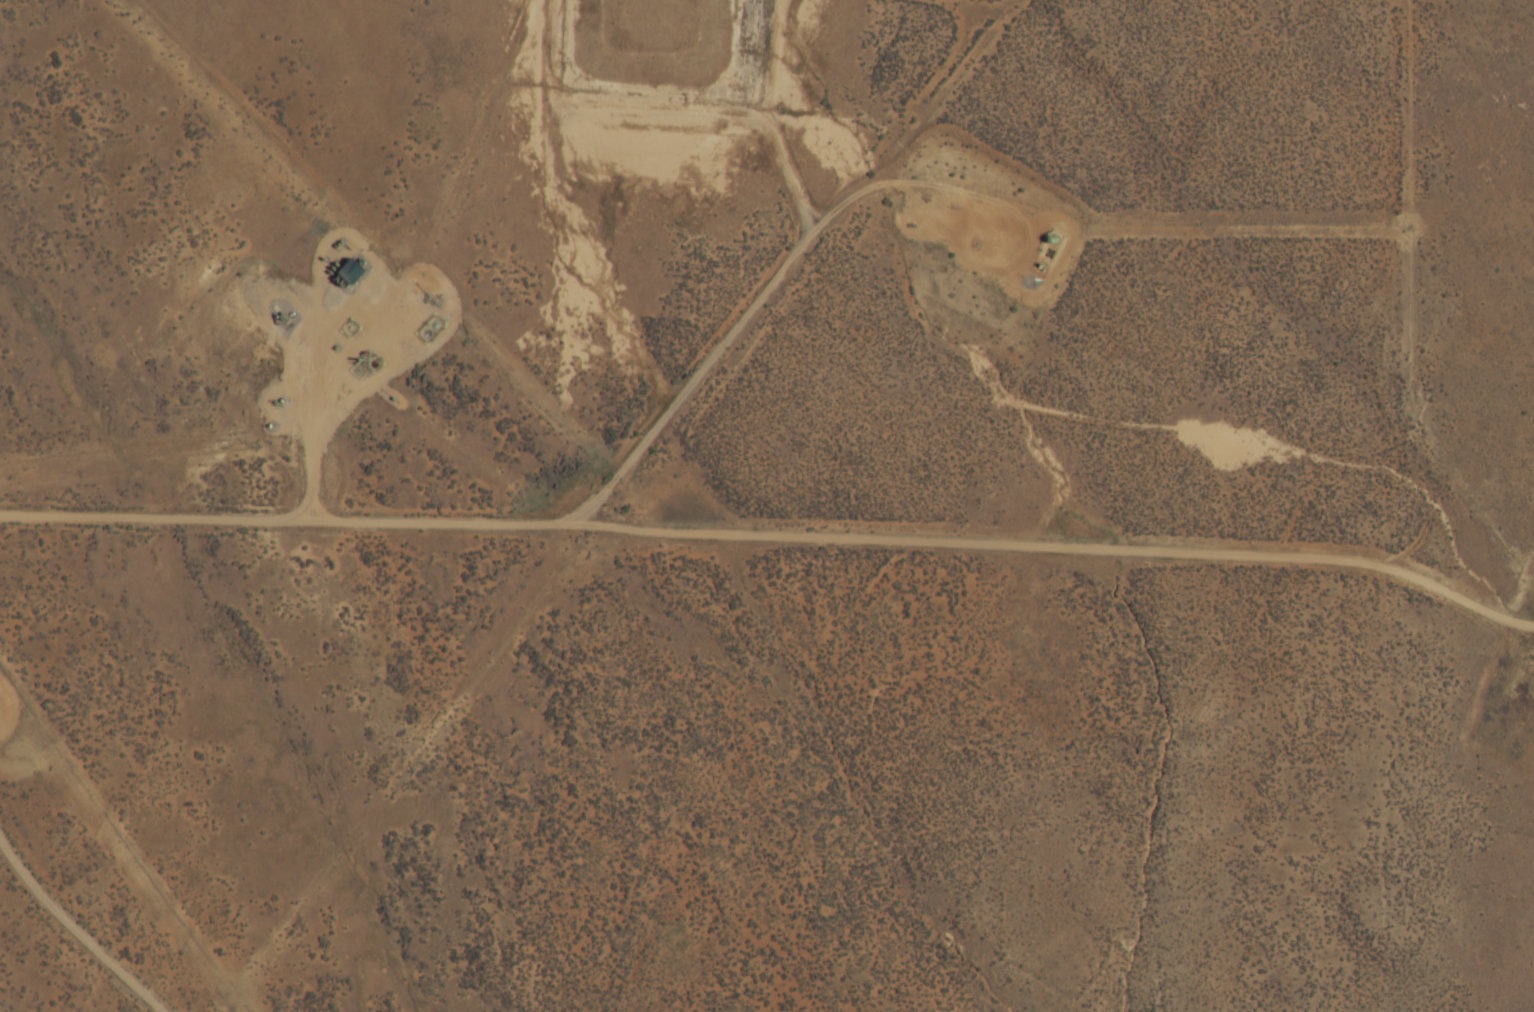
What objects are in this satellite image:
building: (351, 271)
building: (15, 601)
road: (50, 963)
building: (38, 1006)

